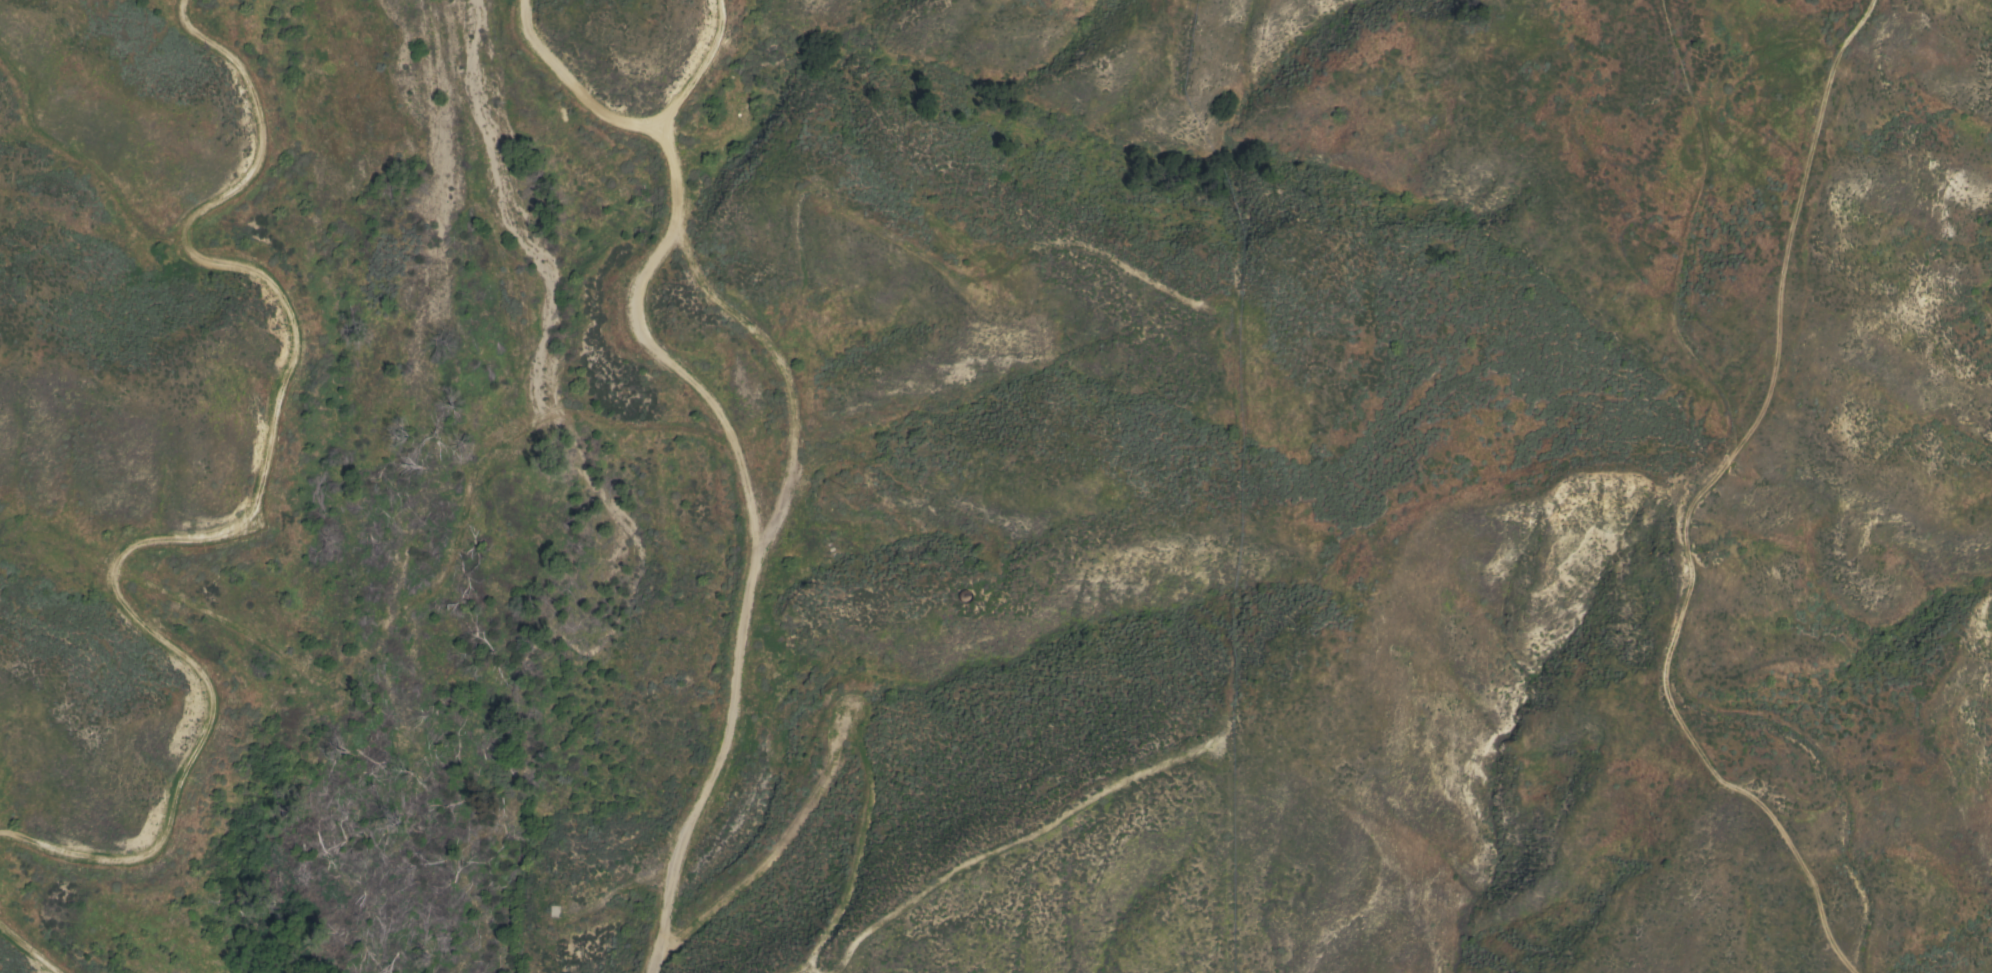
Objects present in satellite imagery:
road: (703, 67)
road: (575, 81)
road: (527, 298)
road: (650, 351)
road: (242, 530)
road: (265, 642)
road: (710, 768)
road: (16, 958)

